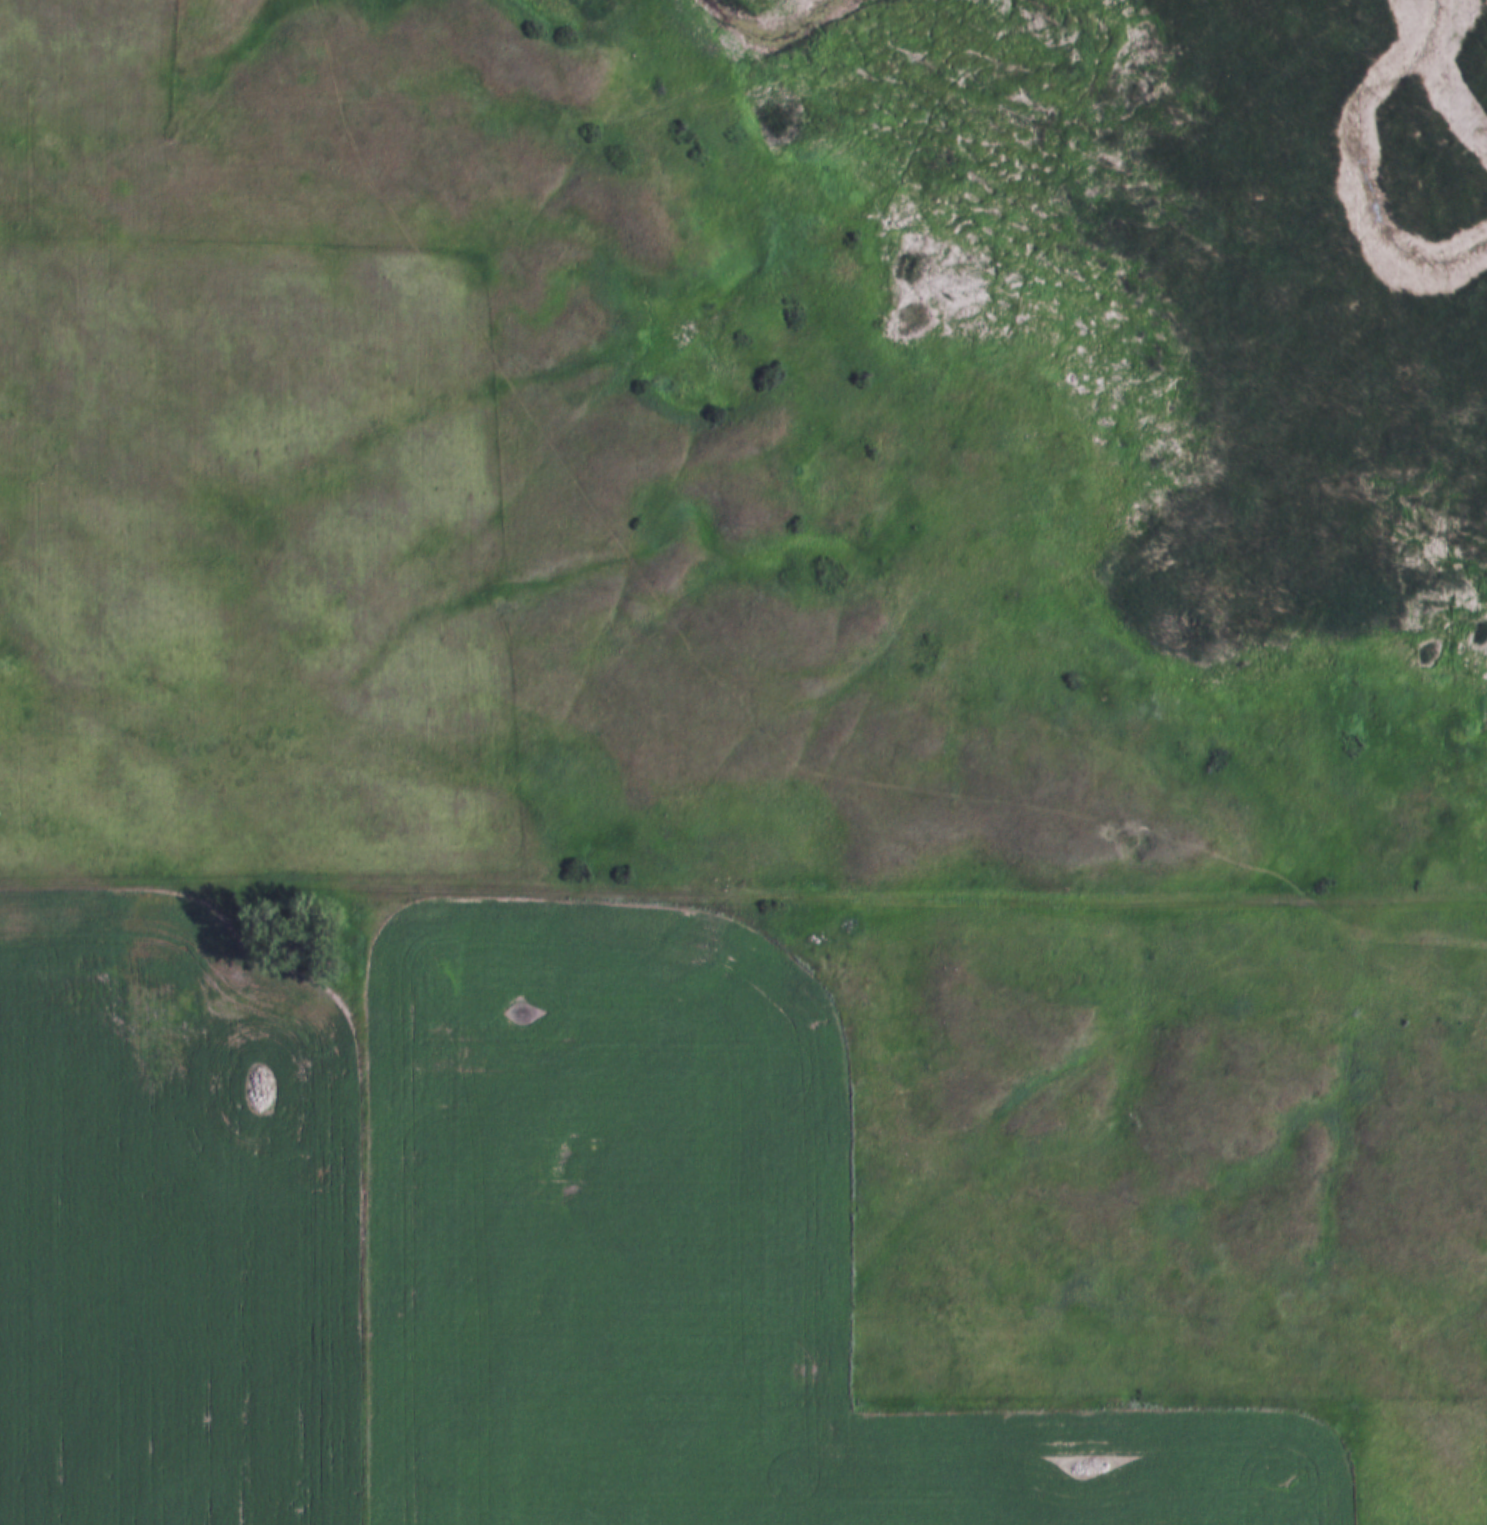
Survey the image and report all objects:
river: (781, 28)
river: (1376, 152)
road: (714, 514)
road: (589, 894)
road: (1332, 899)

